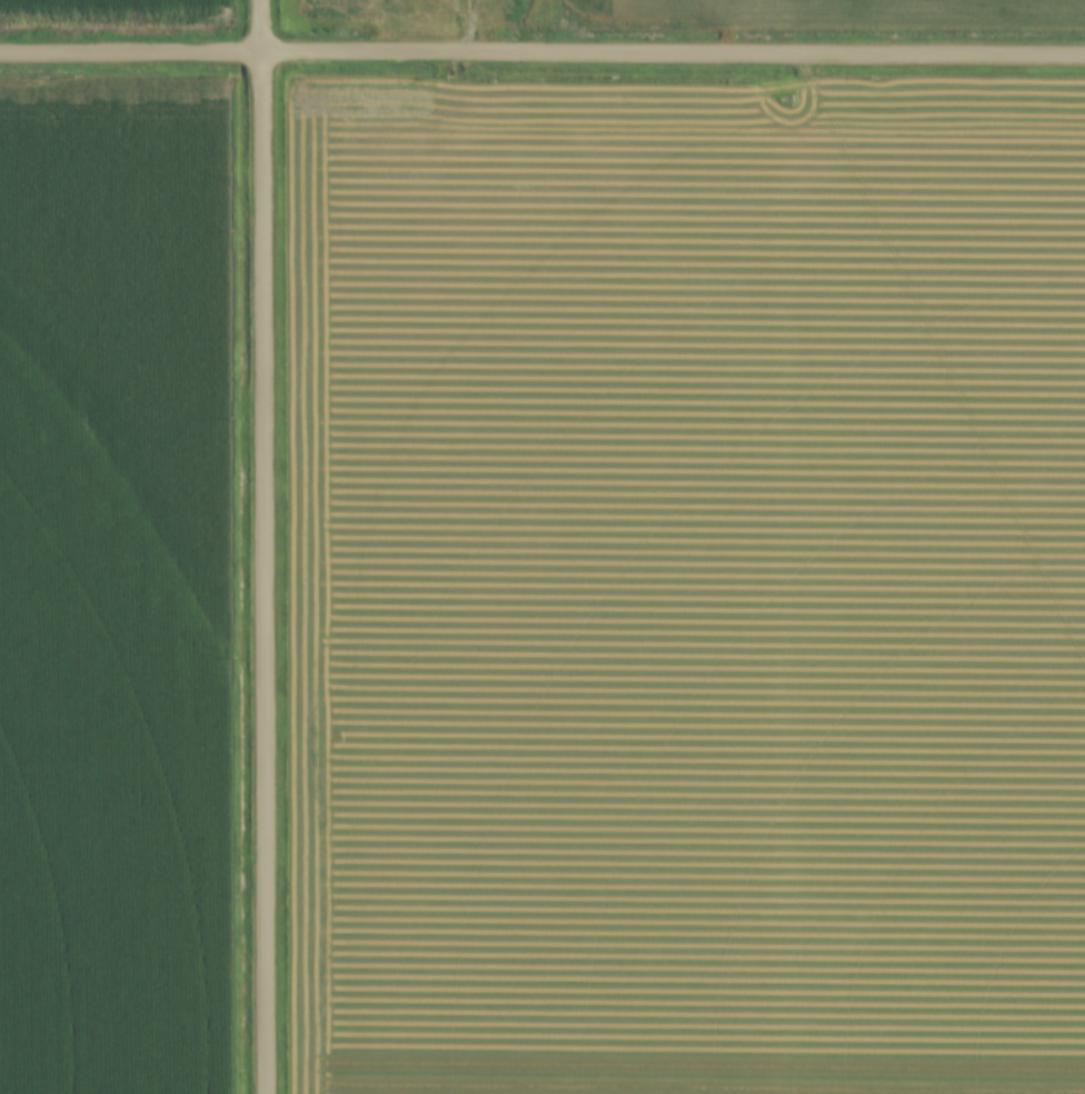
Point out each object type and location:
silo: (522, 1)
building: (520, 3)
crop: (844, 9)
road: (472, 27)
road: (541, 54)
road: (262, 546)
crop: (117, 580)
crop: (686, 584)

